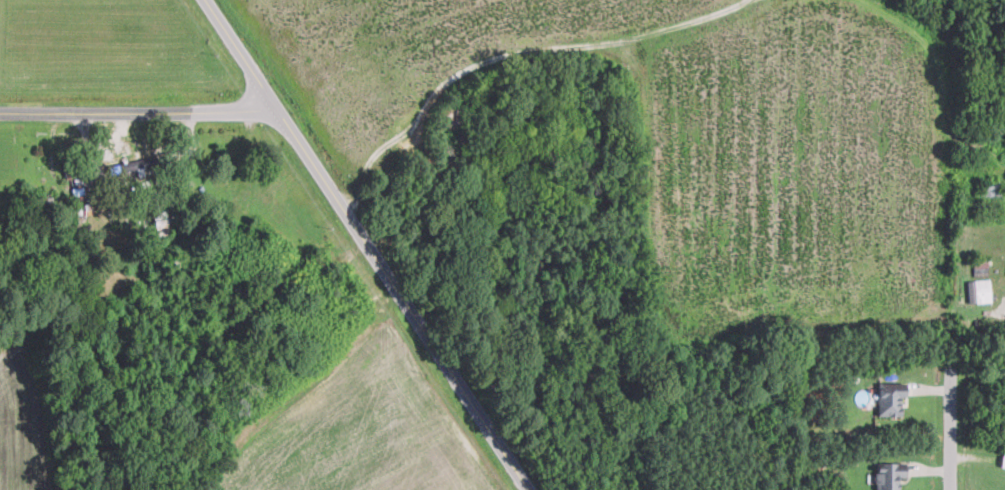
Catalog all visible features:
road: (137, 112)
building: (454, 116)
building: (123, 147)
building: (137, 164)
building: (77, 168)
building: (160, 222)
road: (365, 245)
building: (172, 261)
building: (978, 290)
building: (892, 399)
road: (950, 427)
building: (1003, 460)
building: (889, 474)

